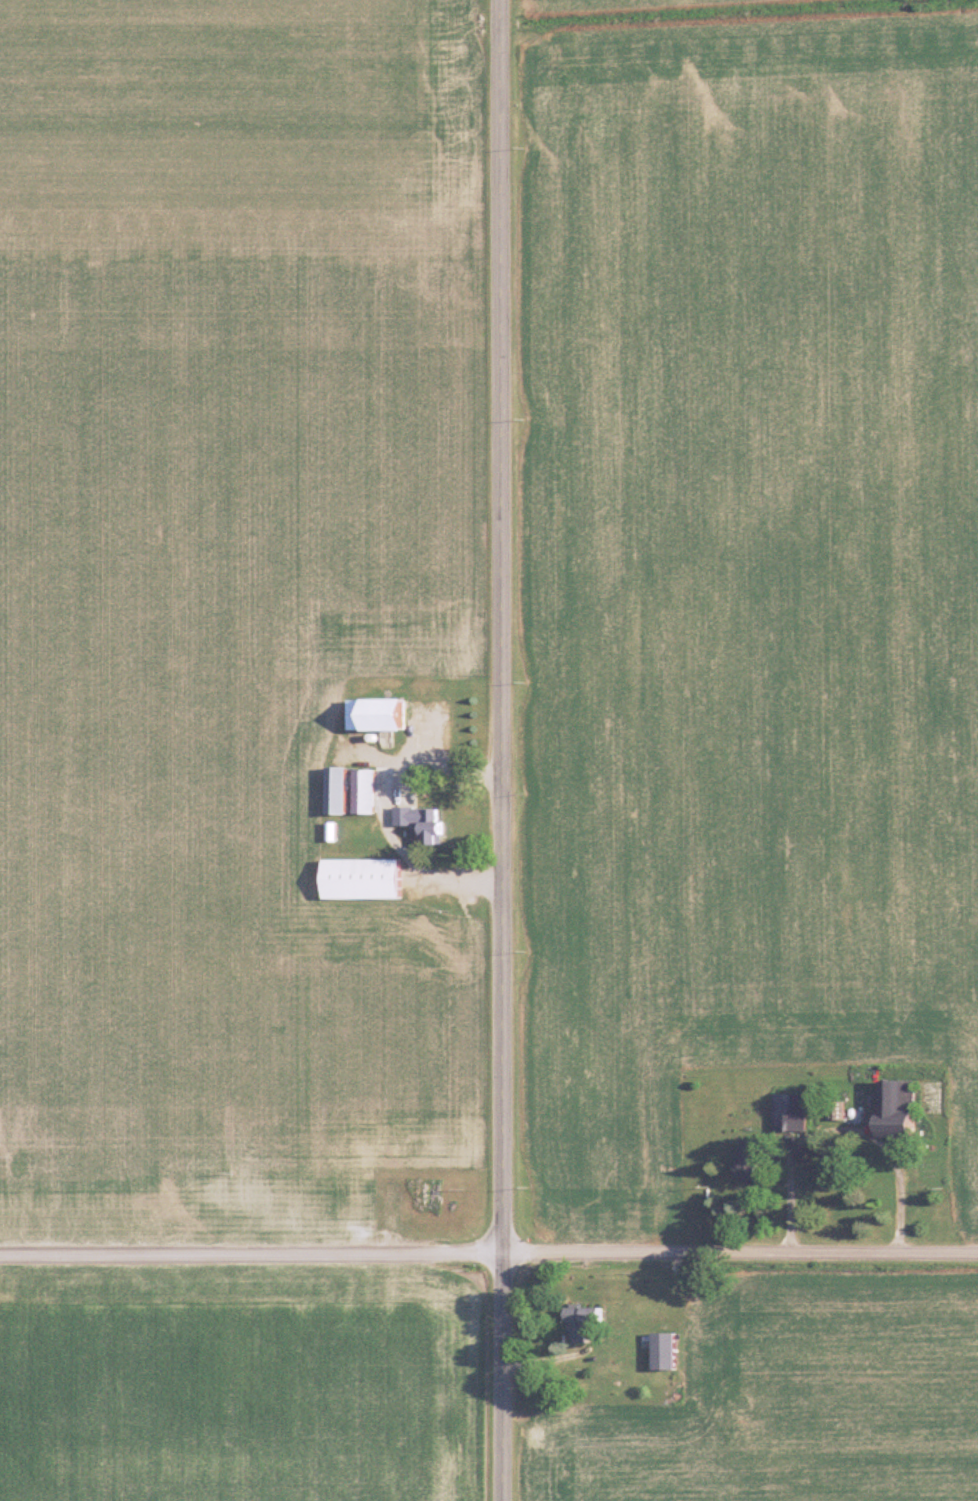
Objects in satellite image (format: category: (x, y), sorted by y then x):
building: (387, 713)
road: (502, 750)
building: (342, 790)
building: (368, 791)
road: (383, 809)
building: (427, 822)
building: (370, 878)
building: (904, 1109)
building: (791, 1112)
building: (756, 1159)
road: (898, 1182)
road: (488, 1253)
building: (584, 1322)
building: (669, 1350)

